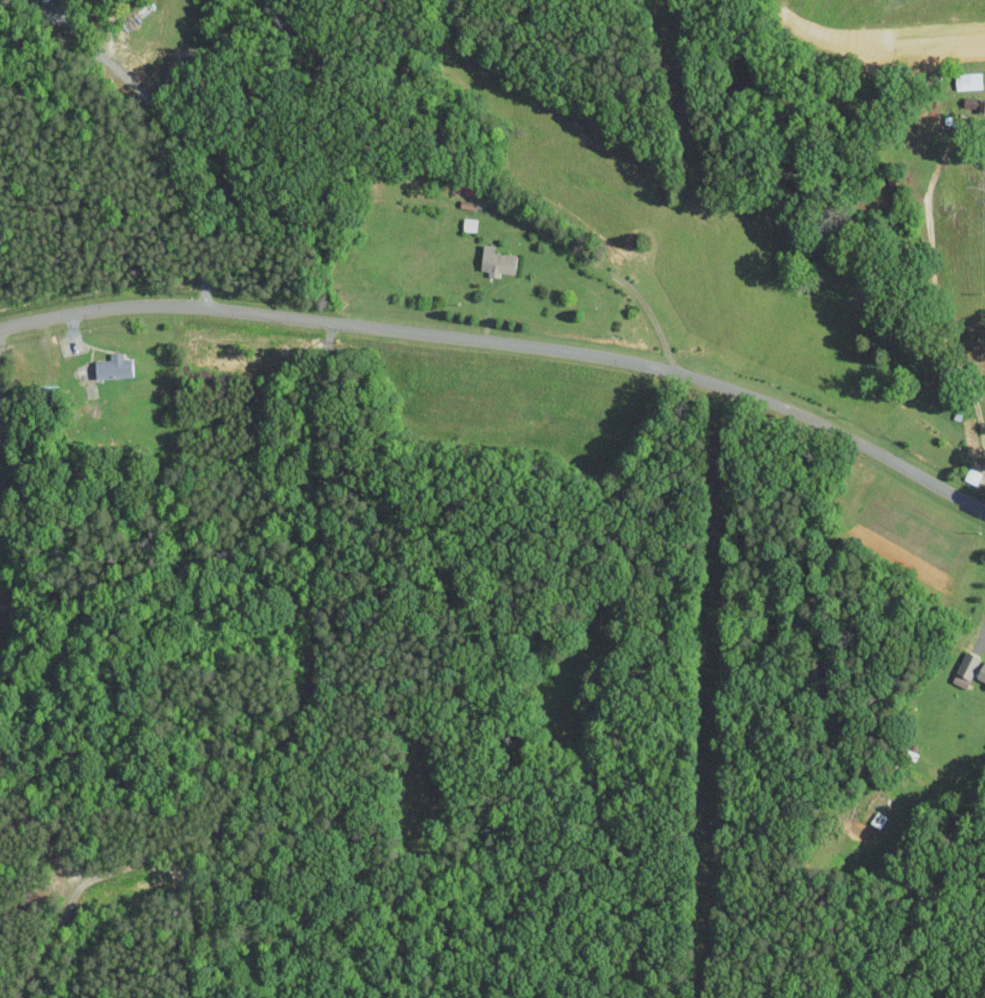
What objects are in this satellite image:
building: (42, 0)
building: (966, 80)
road: (169, 137)
building: (468, 225)
building: (495, 261)
road: (506, 344)
building: (112, 367)
building: (1, 479)

